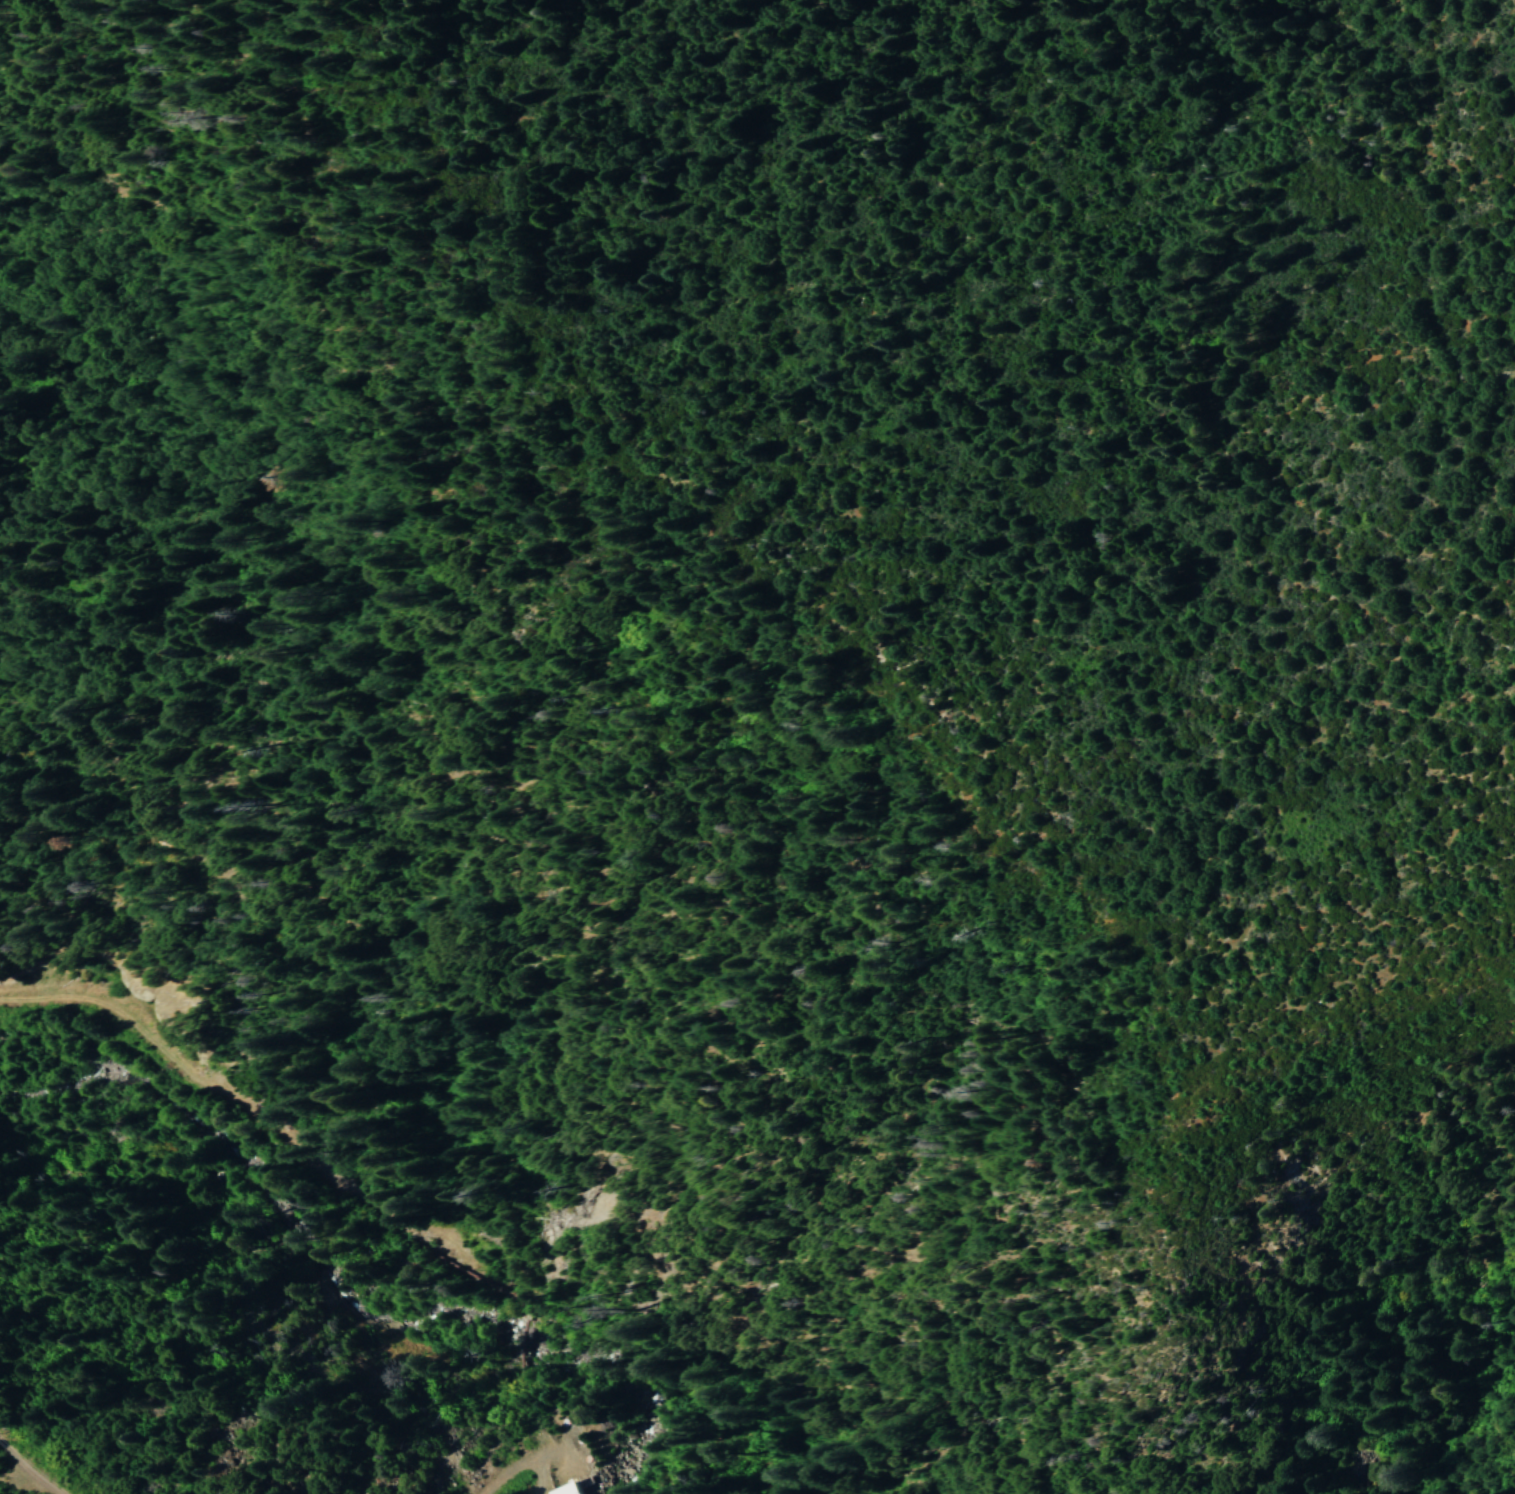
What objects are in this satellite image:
building: (560, 1489)

